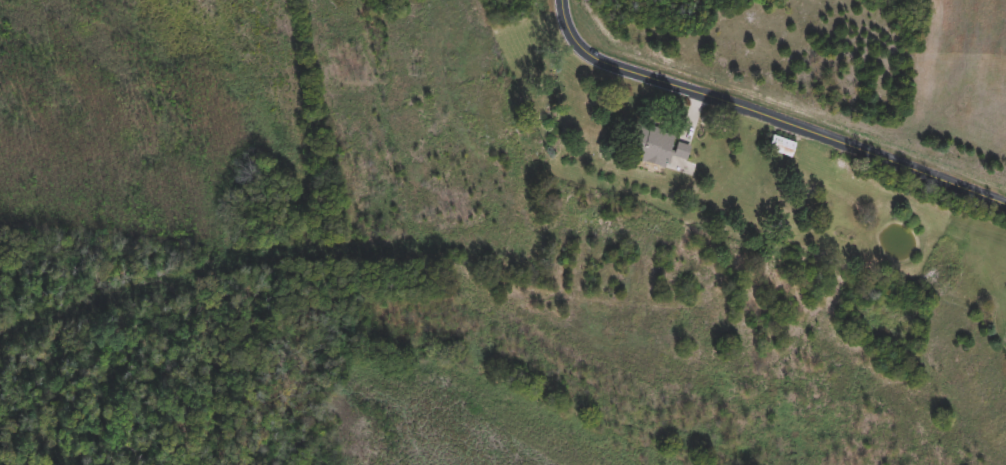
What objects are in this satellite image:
road: (766, 119)
building: (656, 143)

